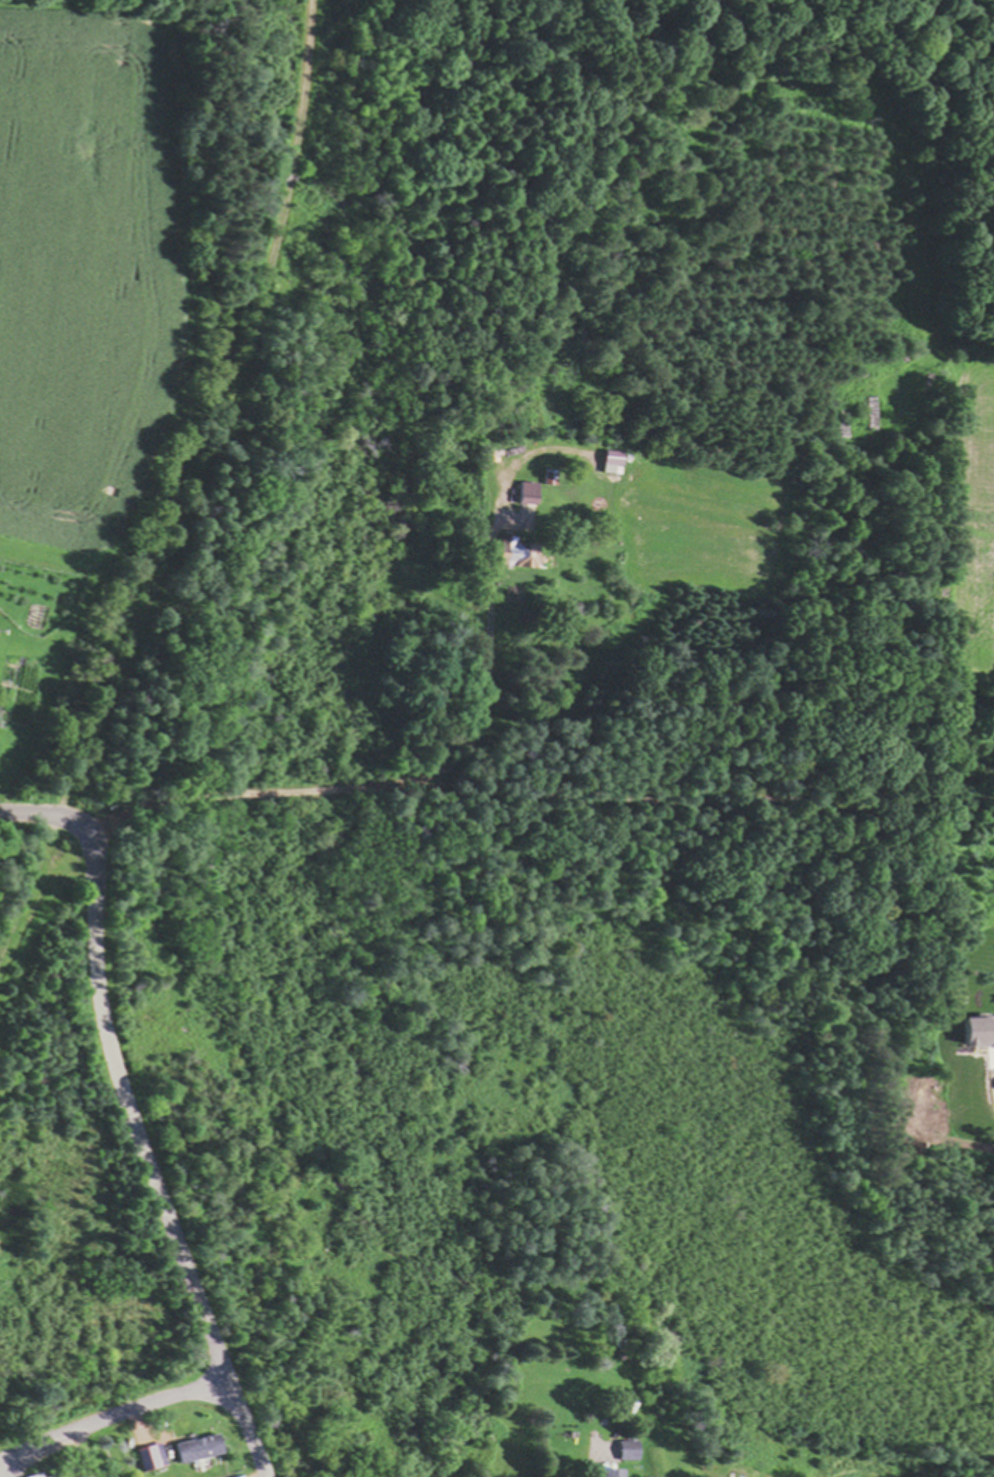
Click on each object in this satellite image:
building: (920, 332)
building: (615, 458)
road: (188, 484)
building: (529, 493)
building: (525, 555)
road: (393, 784)
road: (49, 815)
road: (148, 1161)
road: (113, 1415)
road: (137, 1420)
building: (202, 1450)
building: (631, 1452)
building: (150, 1460)
road: (596, 1470)
road: (4, 1471)
building: (617, 1473)
building: (60, 1475)
building: (39, 1476)

